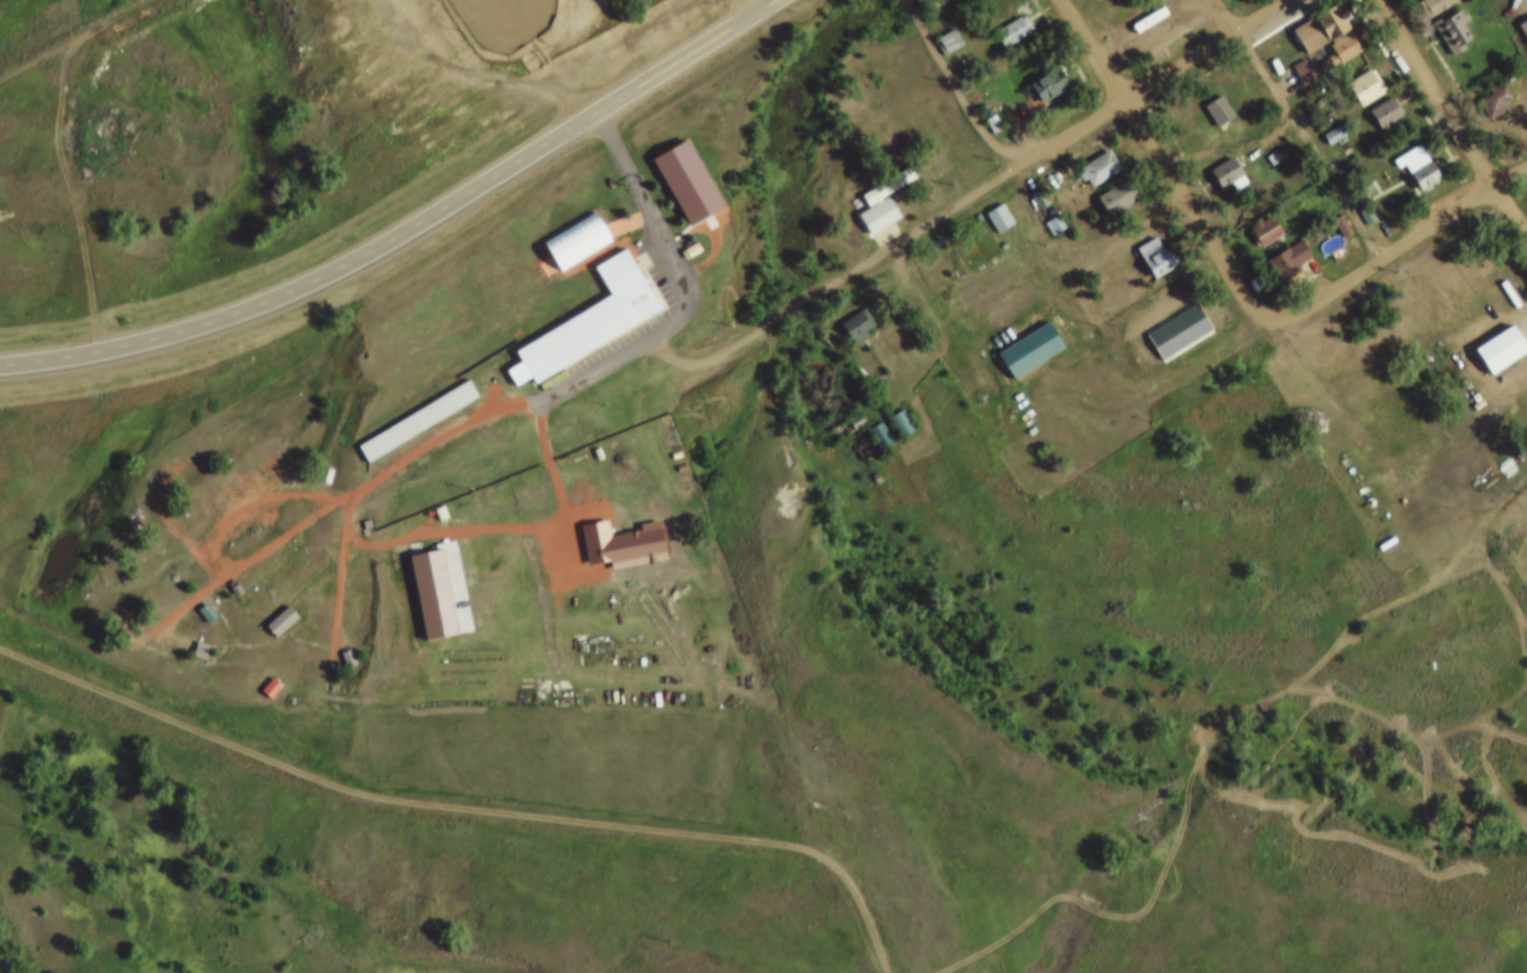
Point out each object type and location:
building: (1425, 1)
road: (744, 7)
building: (1142, 8)
park: (502, 15)
building: (1522, 15)
building: (1010, 18)
building: (1449, 18)
building: (1321, 21)
building: (944, 27)
building: (1523, 29)
building: (1149, 30)
building: (1014, 32)
building: (1455, 34)
building: (1160, 42)
building: (1504, 59)
building: (1303, 61)
building: (1360, 72)
building: (1042, 73)
building: (1510, 74)
road: (1152, 81)
building: (1491, 85)
building: (1049, 87)
road: (956, 88)
building: (1365, 89)
building: (1215, 96)
building: (1382, 99)
building: (1494, 102)
building: (989, 110)
building: (1219, 112)
building: (1387, 115)
building: (1331, 120)
road: (1451, 120)
road: (1299, 127)
building: (1336, 136)
building: (1273, 142)
road: (1232, 150)
road: (72, 152)
building: (1414, 153)
building: (1095, 154)
building: (1224, 161)
road: (1164, 164)
building: (1418, 169)
building: (1099, 170)
building: (1027, 172)
building: (1361, 175)
building: (1228, 176)
building: (1114, 183)
building: (1036, 185)
building: (879, 188)
building: (1117, 199)
building: (1041, 200)
building: (1364, 201)
building: (995, 205)
building: (1051, 211)
building: (1338, 212)
building: (1261, 218)
building: (1000, 219)
road: (404, 227)
building: (1266, 232)
road: (1401, 239)
building: (1152, 243)
building: (1284, 247)
building: (1161, 263)
building: (1289, 263)
road: (682, 279)
road: (837, 280)
building: (1520, 284)
building: (587, 305)
parking lot: (661, 311)
building: (854, 311)
building: (1174, 317)
building: (858, 327)
building: (1026, 336)
building: (1495, 337)
building: (1030, 352)
building: (1501, 352)
building: (830, 390)
building: (853, 406)
building: (412, 408)
building: (898, 410)
building: (877, 420)
building: (901, 425)
building: (805, 429)
building: (375, 448)
building: (323, 461)
building: (872, 461)
road: (332, 506)
building: (363, 511)
building: (615, 530)
building: (231, 575)
building: (427, 581)
building: (202, 599)
building: (277, 608)
building: (197, 635)
building: (344, 645)
building: (266, 675)
road: (461, 808)

